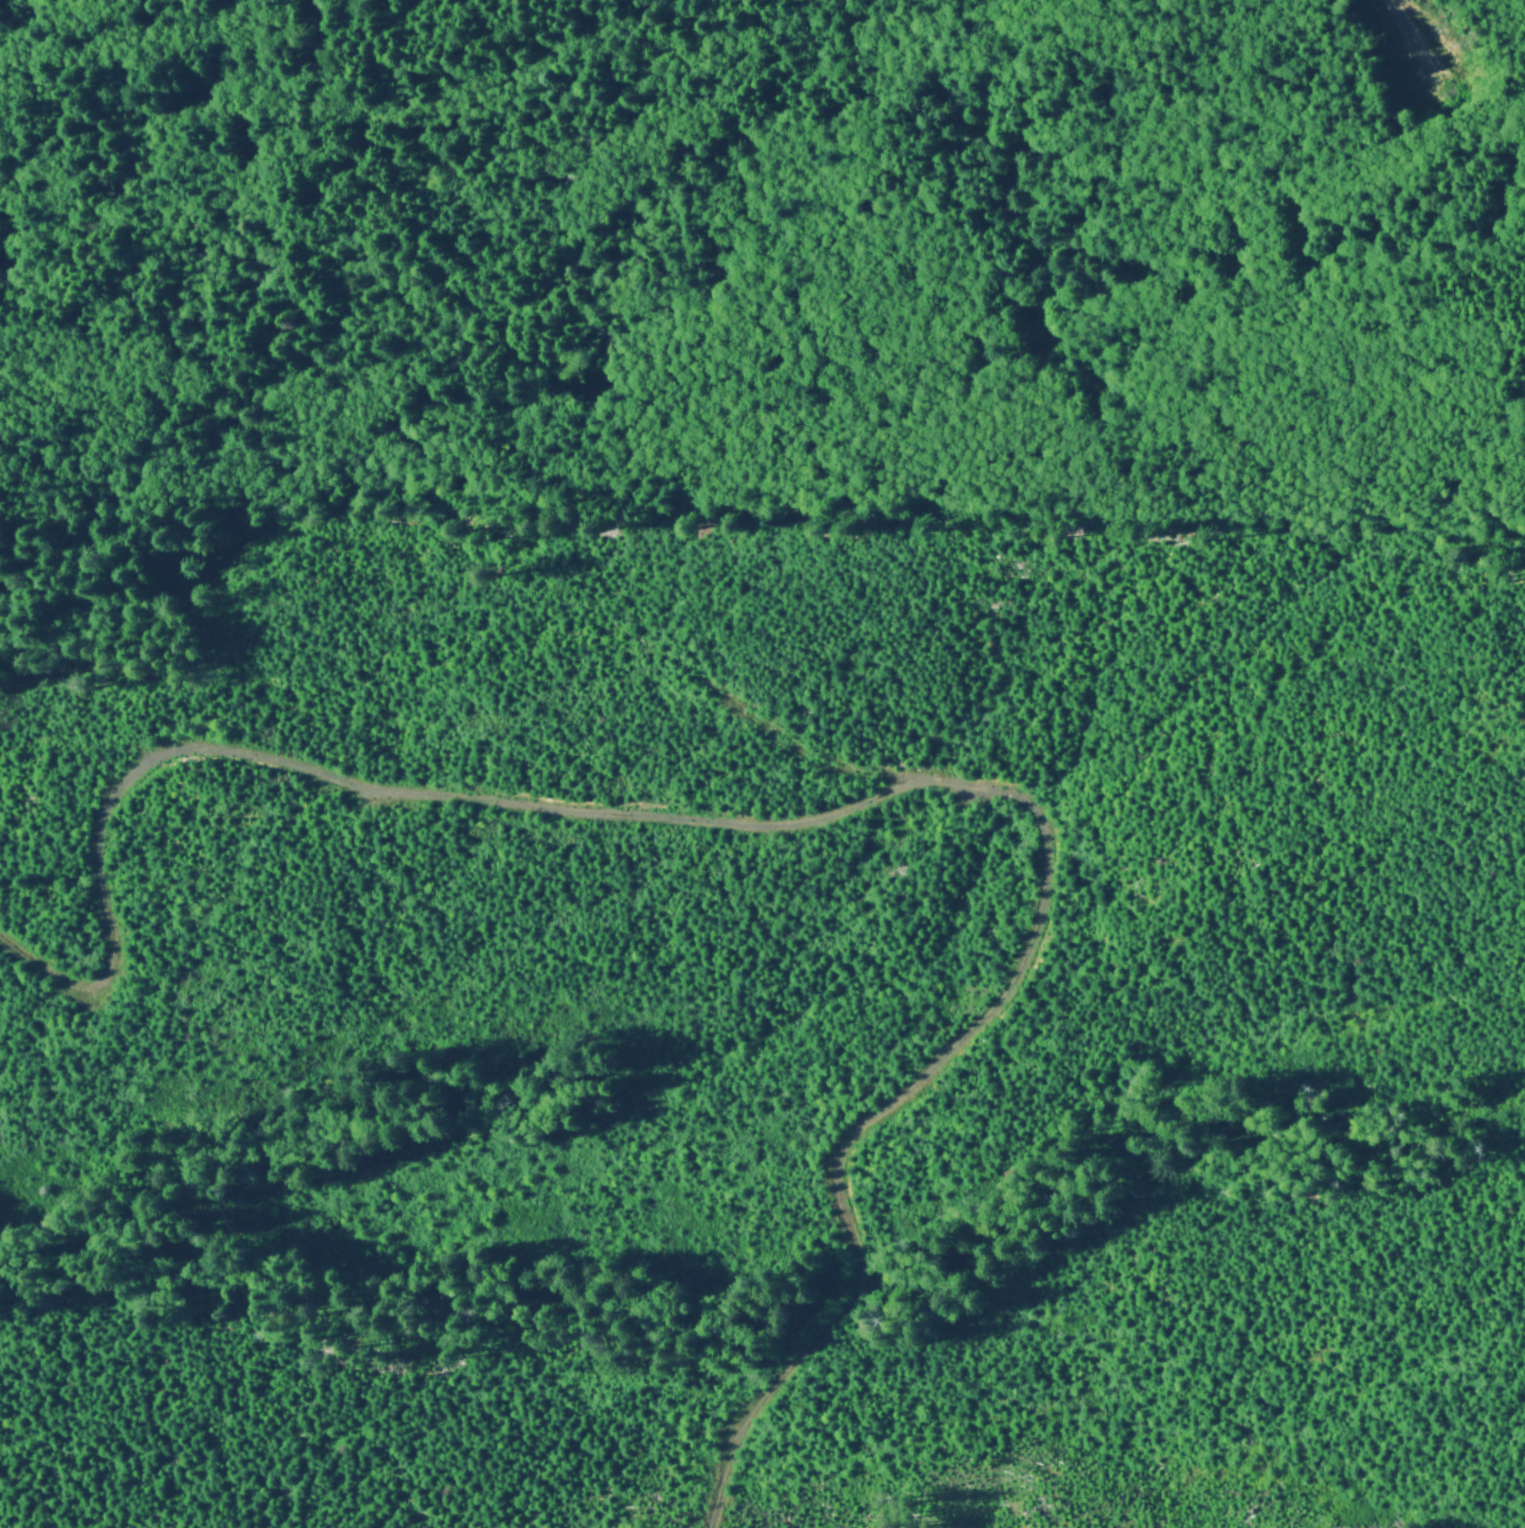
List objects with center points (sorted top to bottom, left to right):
road: (14, 37)

